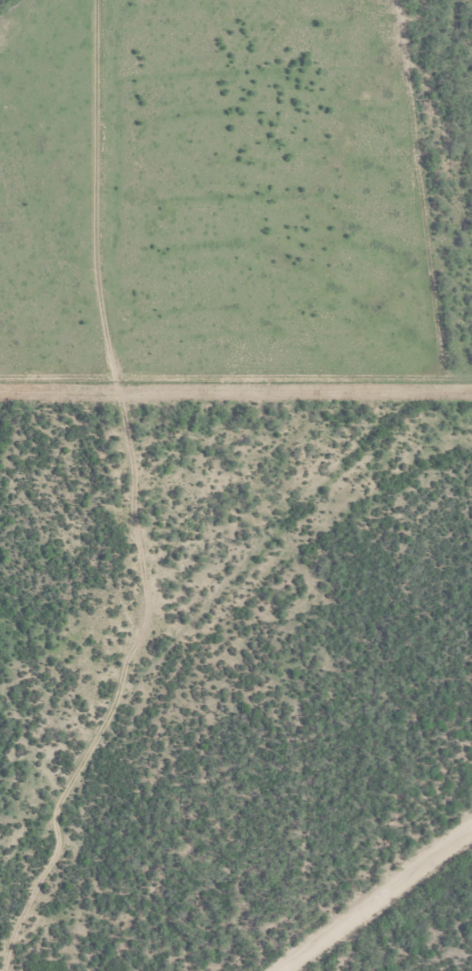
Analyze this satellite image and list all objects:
road: (375, 897)

